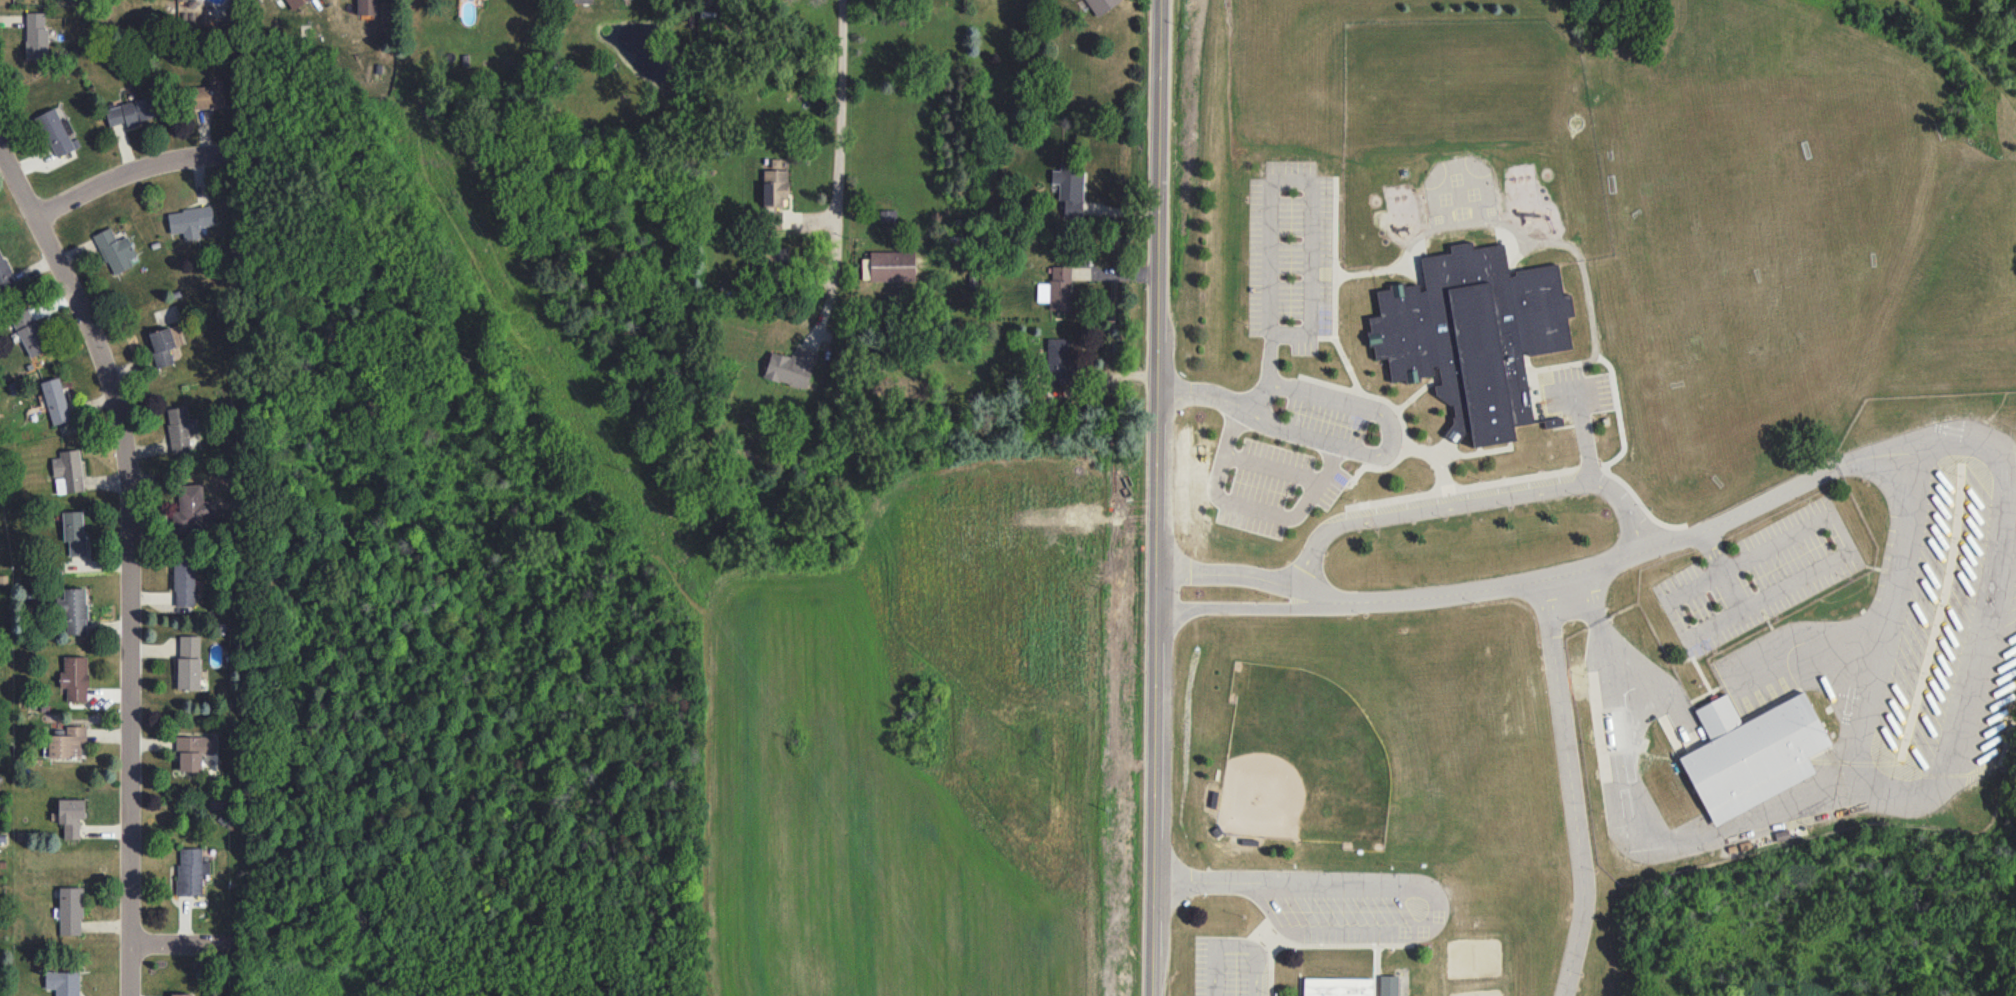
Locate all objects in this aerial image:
building: (183, 0)
building: (576, 1)
building: (295, 3)
building: (1101, 5)
building: (366, 7)
building: (31, 47)
building: (205, 96)
building: (130, 112)
building: (57, 132)
road: (833, 147)
road: (106, 180)
road: (1273, 181)
building: (775, 183)
building: (1069, 189)
building: (887, 215)
building: (773, 220)
building: (190, 221)
building: (115, 250)
building: (892, 266)
building: (5, 276)
building: (1056, 289)
building: (28, 332)
building: (1472, 338)
building: (163, 344)
building: (1057, 360)
building: (790, 368)
road: (1203, 398)
building: (55, 401)
building: (180, 428)
road: (1582, 440)
road: (1389, 446)
road: (1272, 467)
building: (67, 472)
road: (1813, 481)
road: (1155, 497)
road: (1248, 505)
road: (1465, 505)
building: (186, 513)
road: (1830, 518)
road: (952, 520)
building: (74, 532)
road: (129, 559)
road: (1226, 574)
building: (184, 581)
road: (1694, 587)
road: (1482, 589)
road: (1730, 593)
road: (1308, 597)
building: (73, 610)
road: (1236, 610)
building: (188, 662)
building: (74, 678)
road: (1962, 701)
building: (67, 742)
building: (193, 751)
building: (1753, 754)
road: (1569, 790)
building: (71, 816)
building: (191, 871)
road: (1198, 882)
building: (70, 911)
road: (1434, 920)
road: (192, 944)
road: (1231, 945)
parking lot: (1227, 967)
building: (63, 982)
building: (1348, 984)
building: (181, 994)

